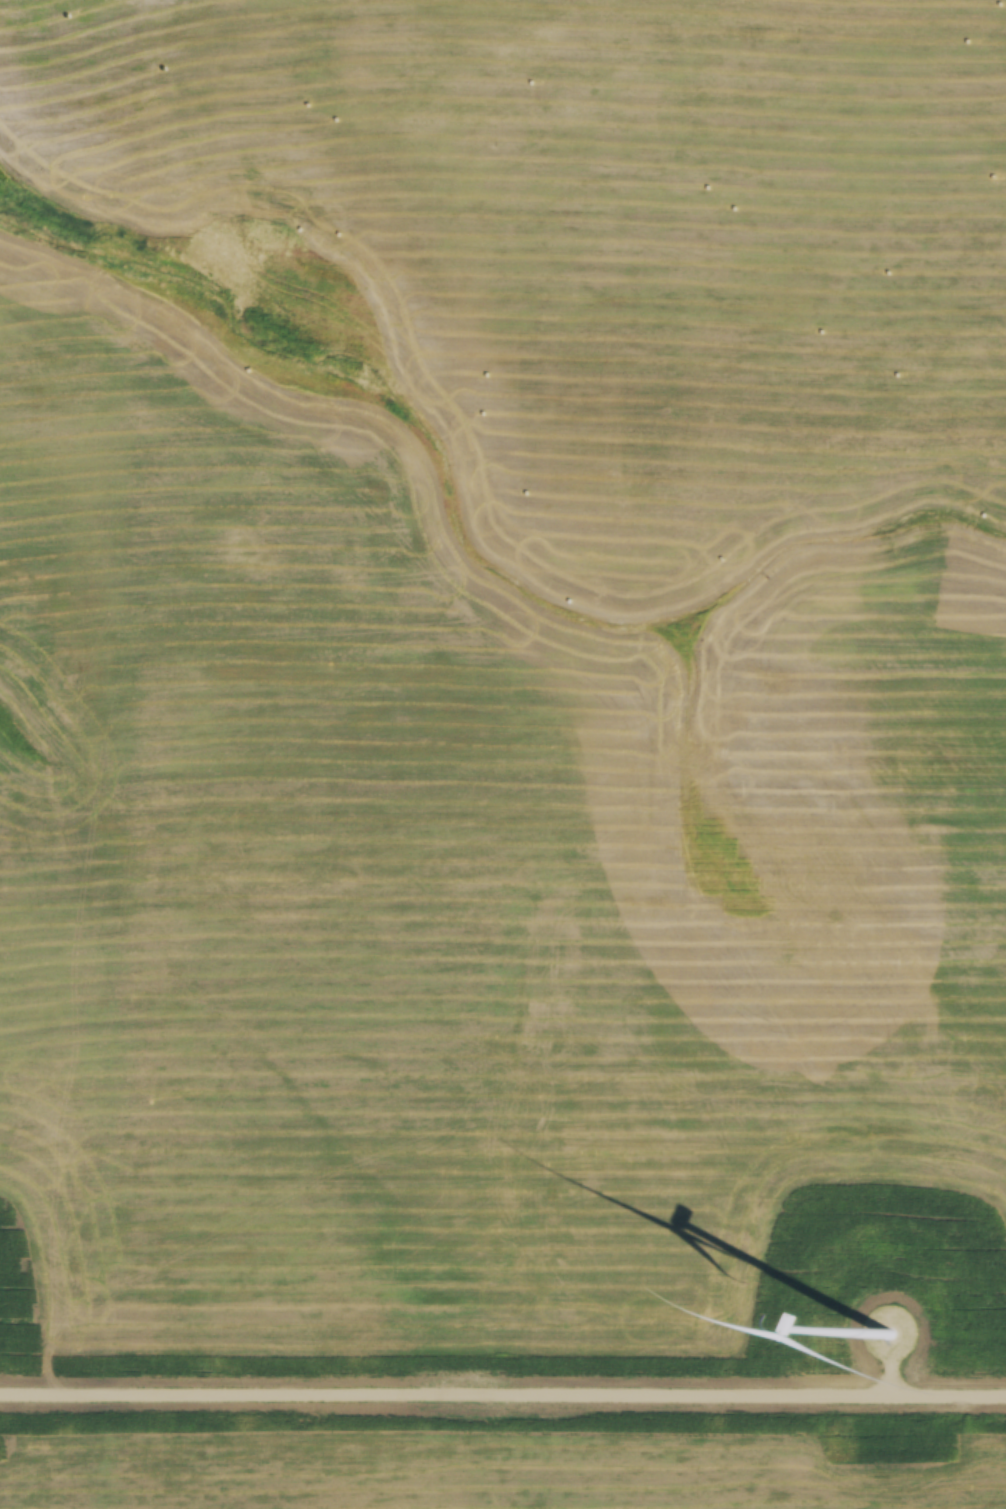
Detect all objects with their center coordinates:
wind turbine: (887, 1323)

